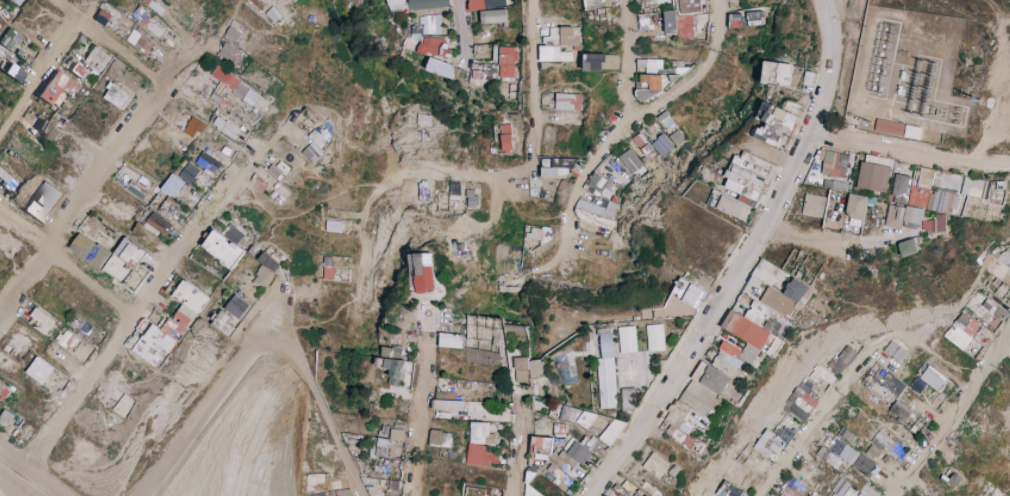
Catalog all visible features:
power substation: (910, 74)
power tower: (980, 95)

